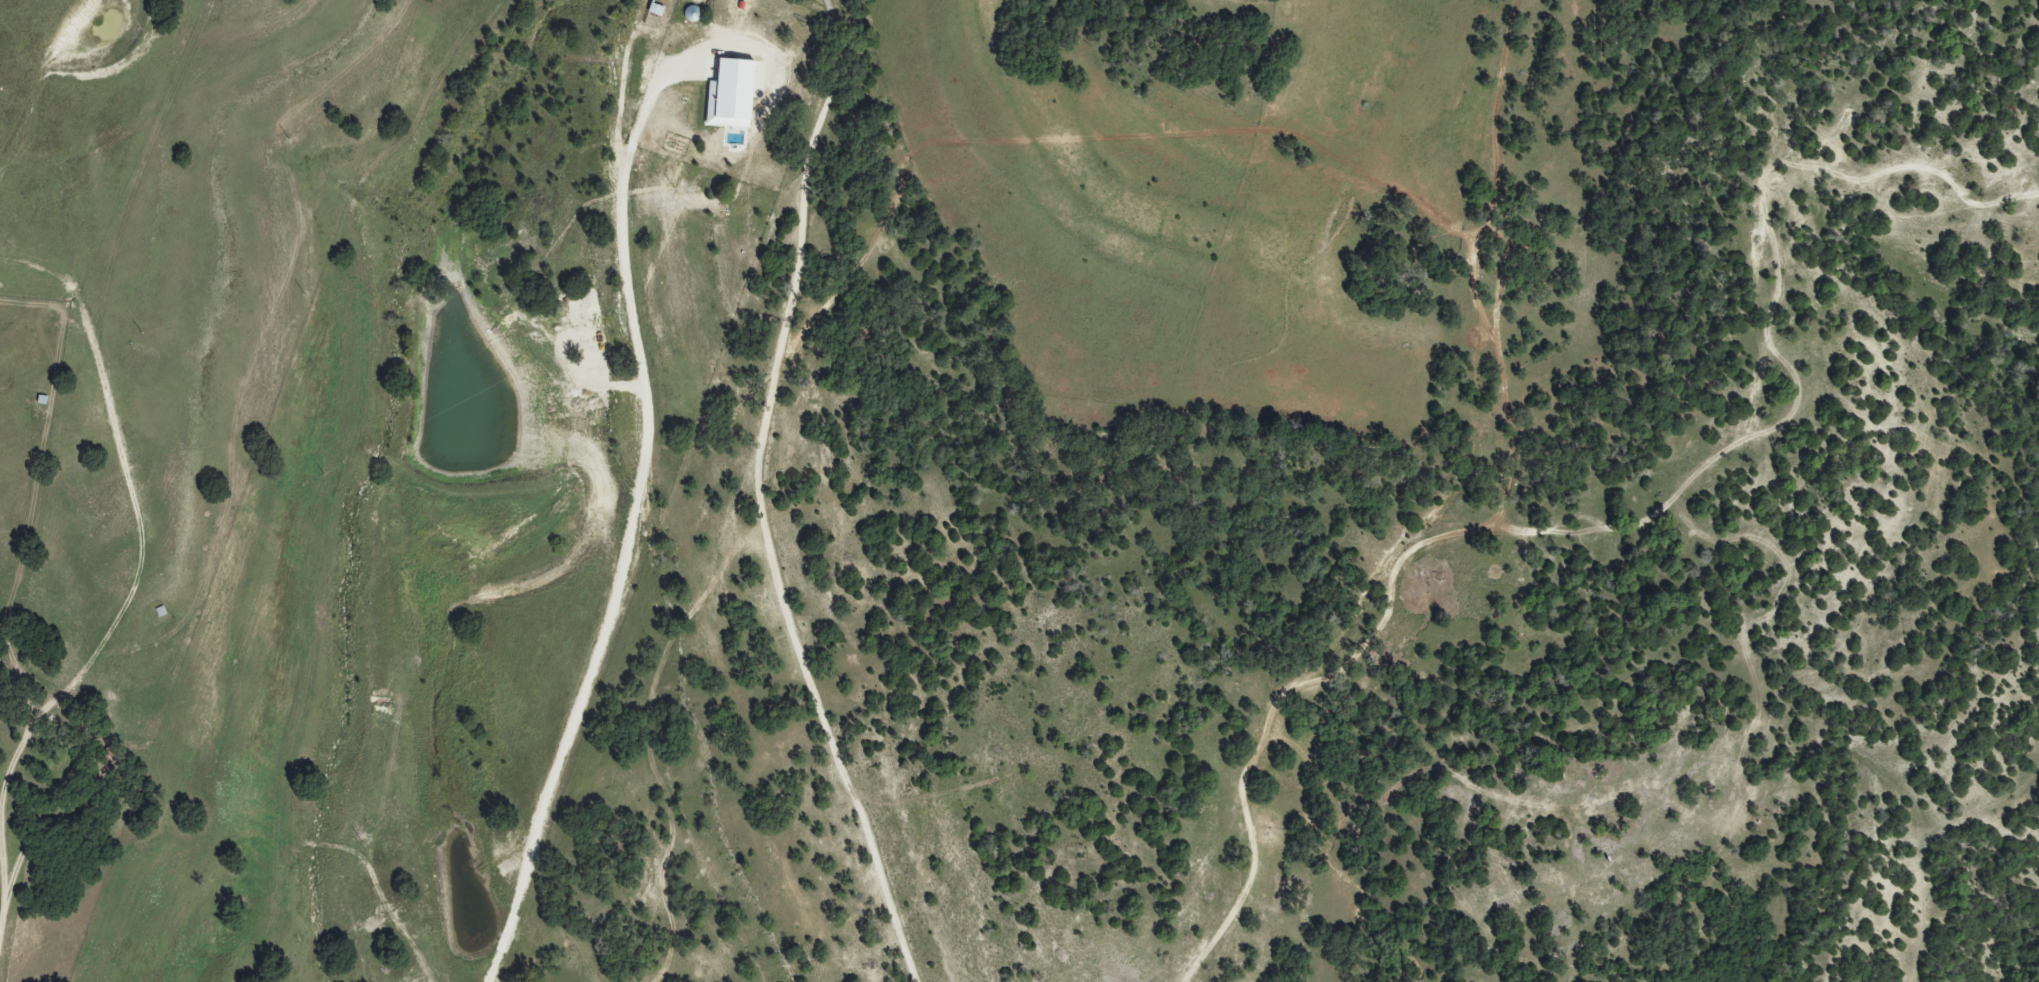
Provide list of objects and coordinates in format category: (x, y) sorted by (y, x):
road: (760, 499)
road: (636, 564)

